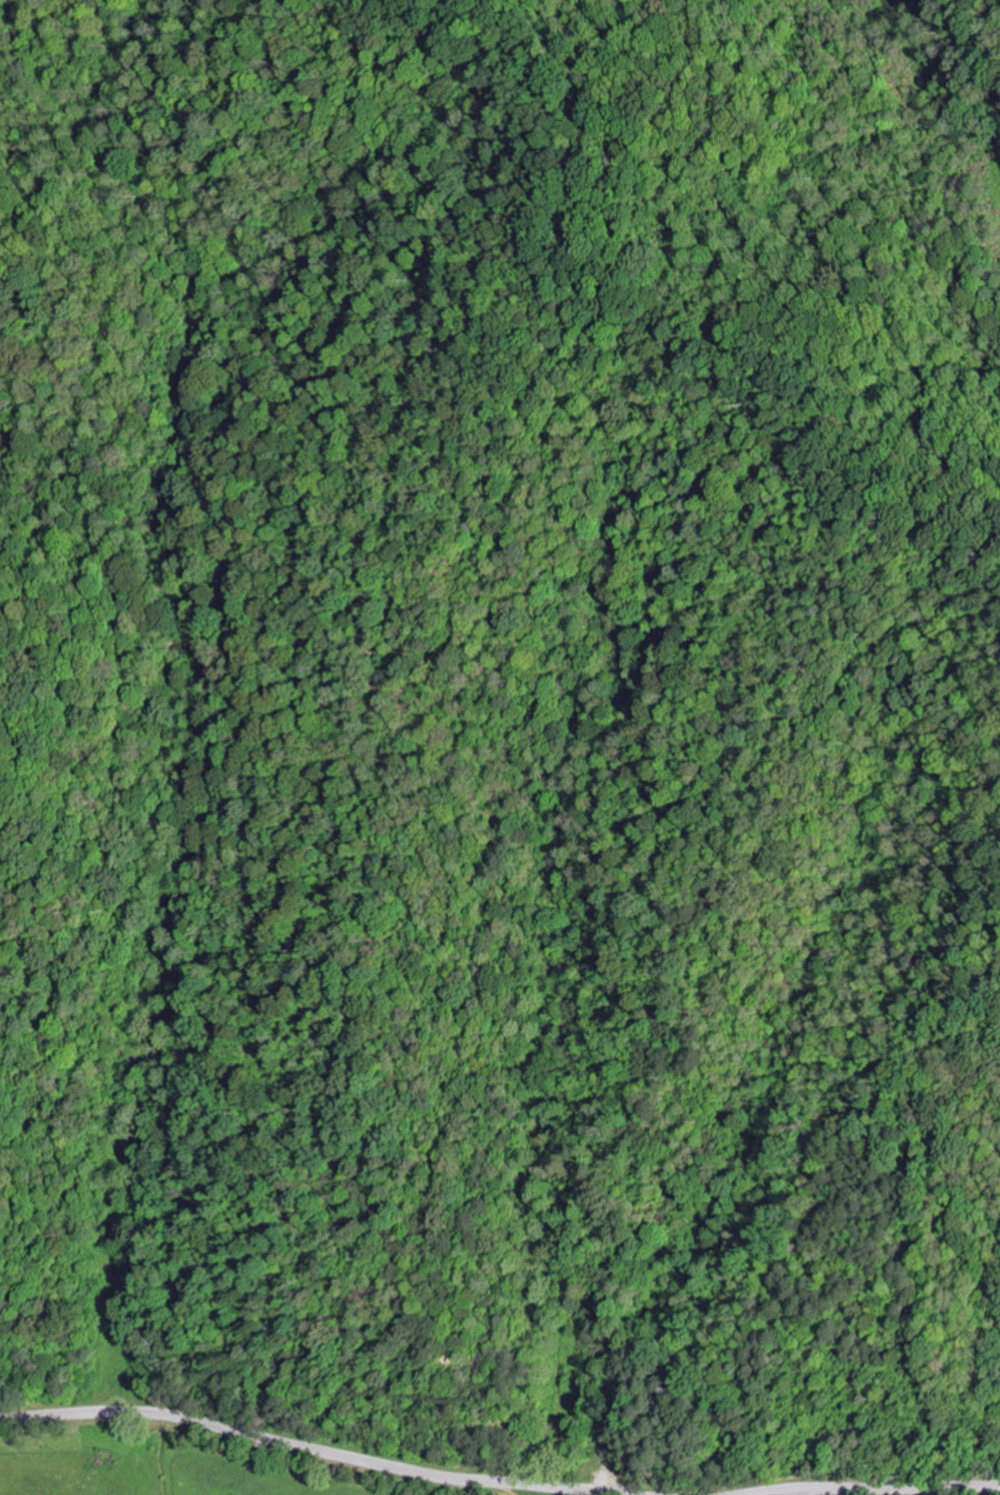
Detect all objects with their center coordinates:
road: (320, 1449)
road: (885, 1487)
road: (756, 1493)
road: (768, 1493)

